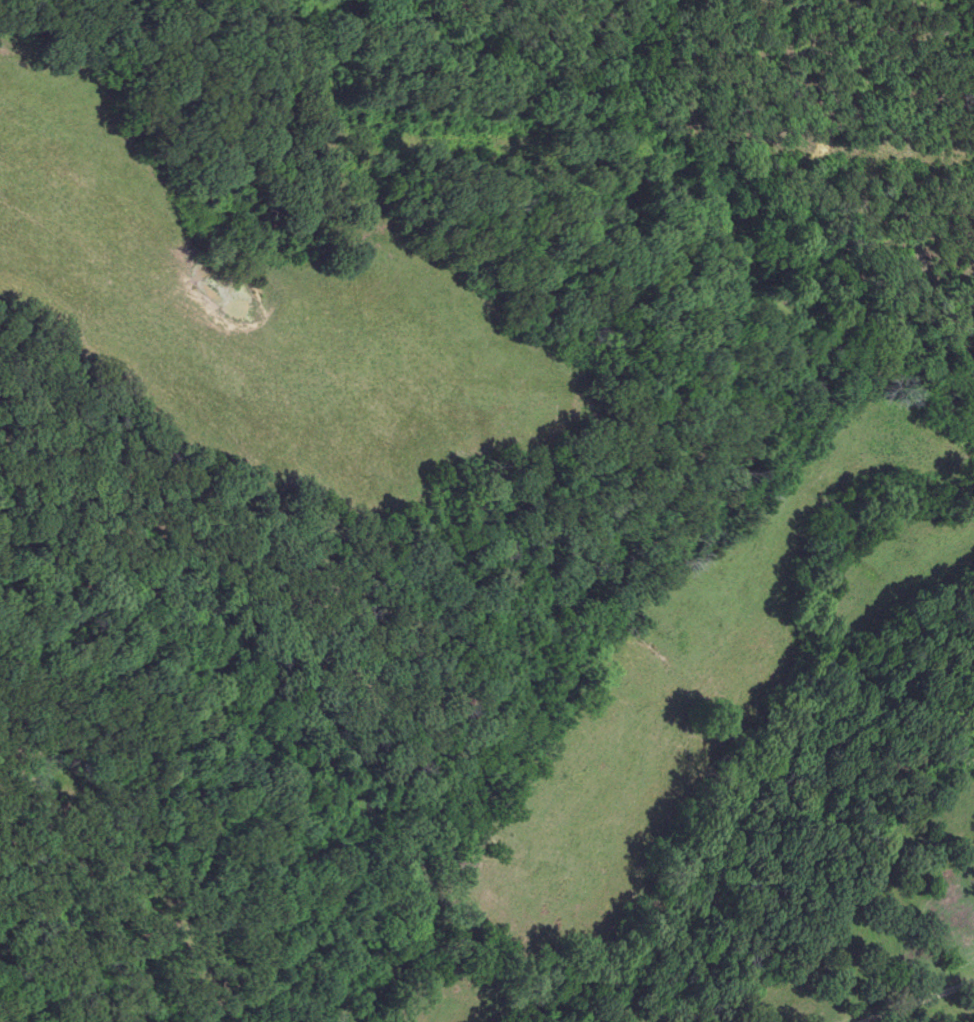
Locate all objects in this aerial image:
road: (912, 999)

